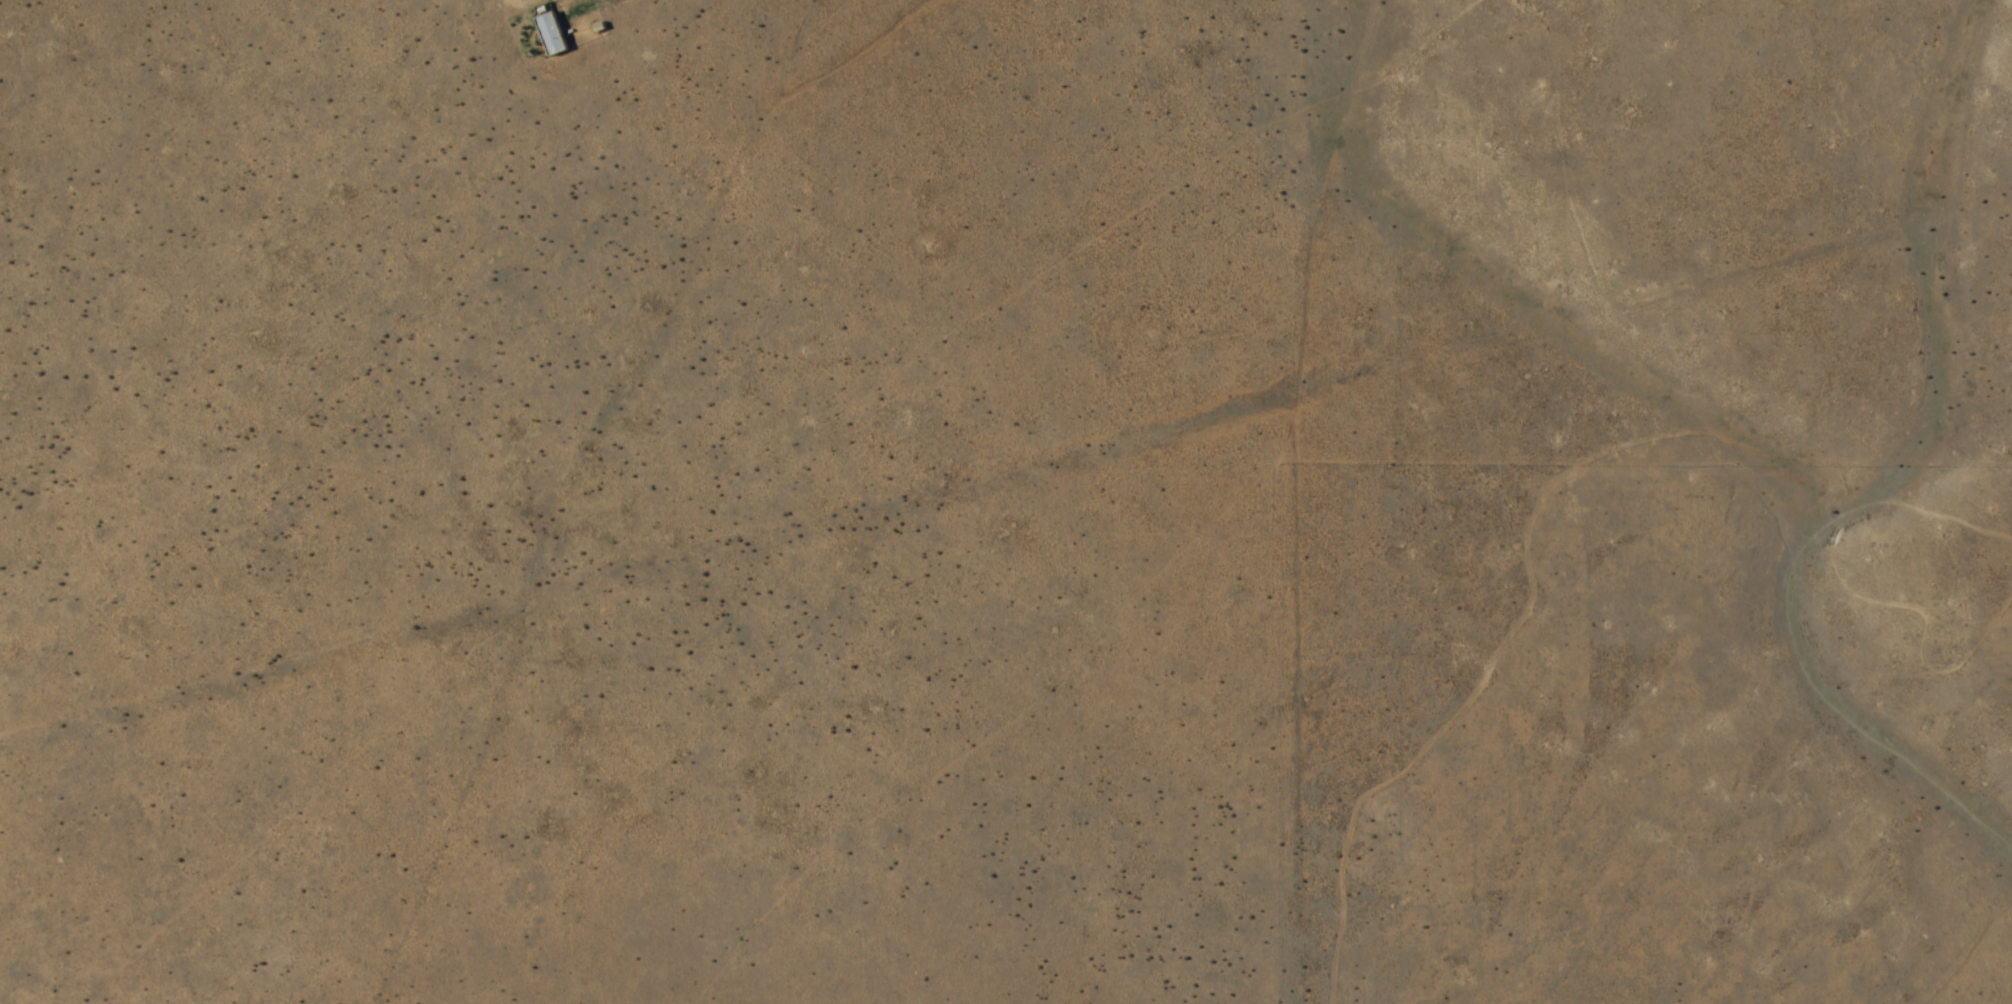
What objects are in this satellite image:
building: (551, 34)

